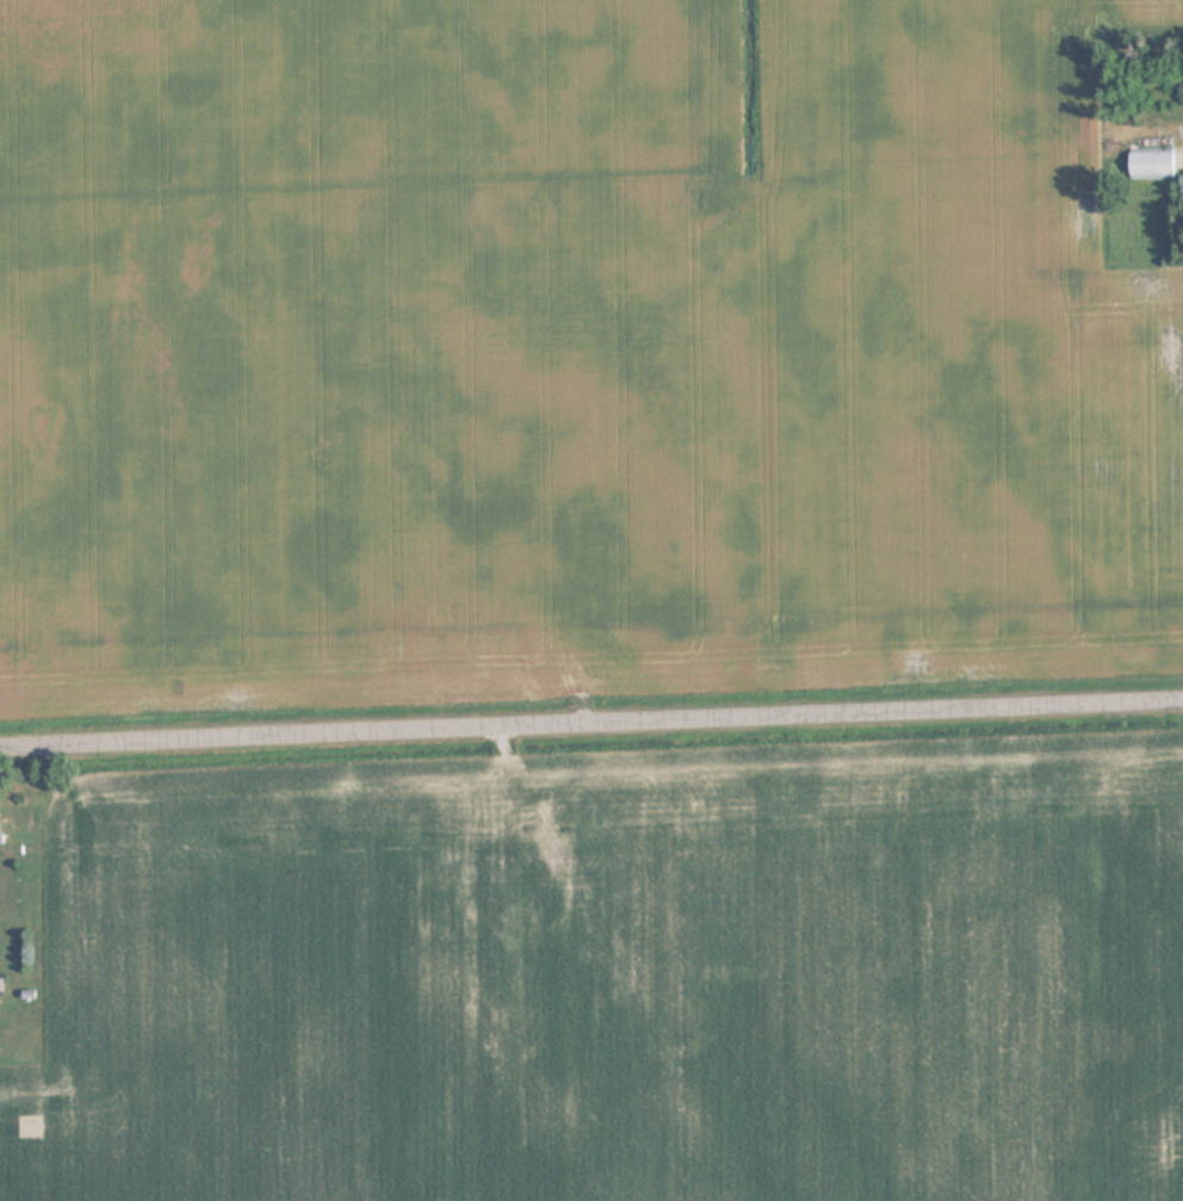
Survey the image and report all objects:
building: (1147, 162)
road: (591, 723)

